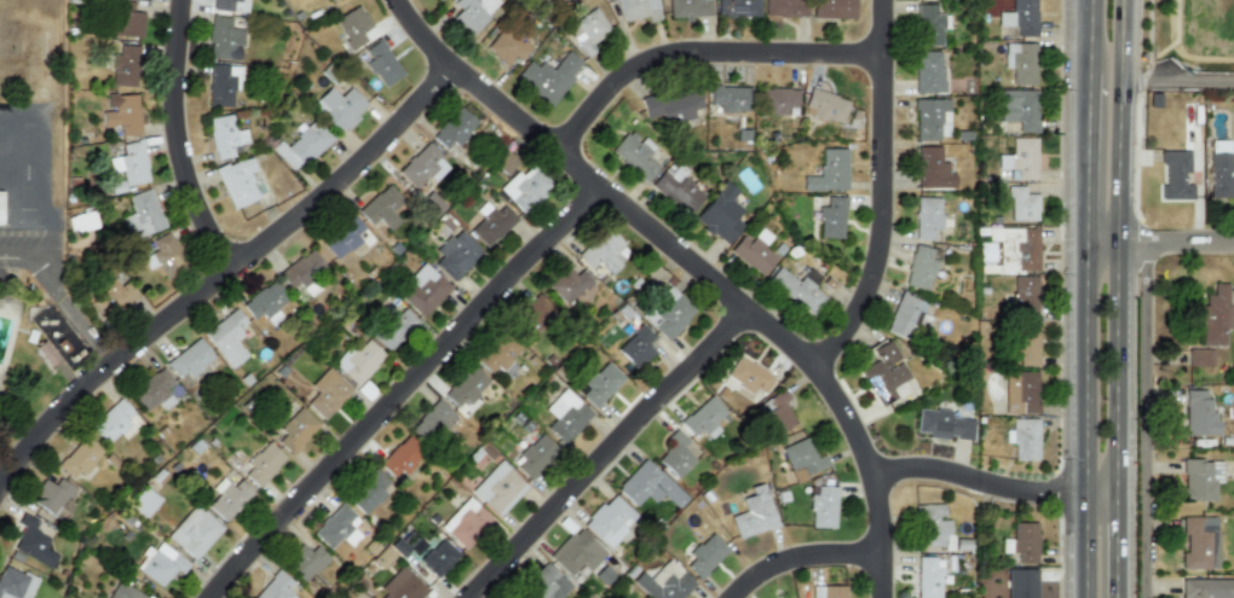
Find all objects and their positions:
building: (434, 0)
building: (229, 5)
building: (688, 8)
building: (738, 8)
building: (784, 8)
building: (832, 8)
building: (639, 10)
building: (472, 12)
building: (1020, 18)
building: (125, 19)
building: (929, 24)
park: (1224, 25)
building: (352, 27)
building: (587, 31)
road: (1090, 35)
building: (224, 39)
road: (1172, 43)
building: (506, 46)
park: (30, 51)
road: (698, 59)
building: (380, 63)
building: (1021, 63)
building: (927, 71)
building: (549, 77)
building: (223, 85)
building: (730, 98)
building: (777, 100)
building: (671, 104)
building: (824, 106)
building: (338, 108)
building: (1019, 109)
building: (930, 118)
building: (454, 130)
building: (226, 135)
road: (178, 141)
building: (301, 145)
building: (638, 155)
building: (1023, 157)
road: (1088, 157)
building: (129, 163)
building: (422, 167)
building: (932, 169)
building: (830, 172)
building: (1174, 175)
building: (1219, 175)
building: (237, 182)
building: (525, 187)
building: (676, 191)
road: (878, 197)
building: (1021, 204)
building: (381, 208)
building: (142, 215)
building: (719, 217)
building: (831, 217)
building: (927, 217)
building: (81, 219)
building: (490, 223)
building: (341, 237)
road: (1159, 243)
road: (1117, 246)
building: (1009, 252)
building: (163, 254)
building: (600, 254)
building: (455, 255)
building: (752, 255)
building: (919, 267)
road: (690, 268)
building: (300, 269)
road: (224, 279)
building: (567, 284)
building: (797, 288)
building: (422, 290)
building: (119, 292)
building: (1023, 296)
road: (65, 298)
building: (263, 301)
building: (534, 313)
building: (667, 313)
building: (904, 315)
building: (1213, 315)
building: (392, 327)
building: (229, 337)
building: (1025, 343)
building: (635, 347)
building: (497, 354)
building: (1199, 356)
building: (357, 361)
building: (192, 362)
road: (1085, 368)
building: (881, 375)
building: (748, 376)
building: (599, 384)
building: (463, 388)
building: (154, 390)
road: (404, 393)
building: (1019, 393)
building: (327, 394)
building: (1199, 412)
building: (774, 414)
building: (565, 416)
building: (702, 419)
building: (115, 422)
building: (433, 424)
building: (941, 425)
building: (295, 430)
building: (1023, 440)
building: (677, 453)
road: (606, 454)
building: (532, 455)
building: (80, 457)
building: (400, 457)
building: (802, 459)
building: (263, 464)
building: (1196, 481)
road: (976, 482)
building: (647, 486)
building: (498, 488)
building: (367, 493)
road: (1101, 494)
building: (52, 497)
building: (227, 497)
building: (823, 507)
building: (754, 513)
building: (609, 521)
building: (465, 523)
building: (334, 527)
building: (932, 527)
building: (194, 532)
building: (35, 541)
building: (1022, 542)
road: (1085, 546)
road: (1115, 546)
building: (576, 553)
building: (703, 556)
building: (437, 557)
building: (305, 561)
road: (806, 561)
building: (161, 564)
building: (928, 577)
building: (663, 582)
building: (16, 584)
building: (1021, 584)
building: (546, 585)
building: (276, 587)
building: (402, 587)
building: (1206, 588)
building: (832, 591)
building: (123, 592)
building: (512, 597)

